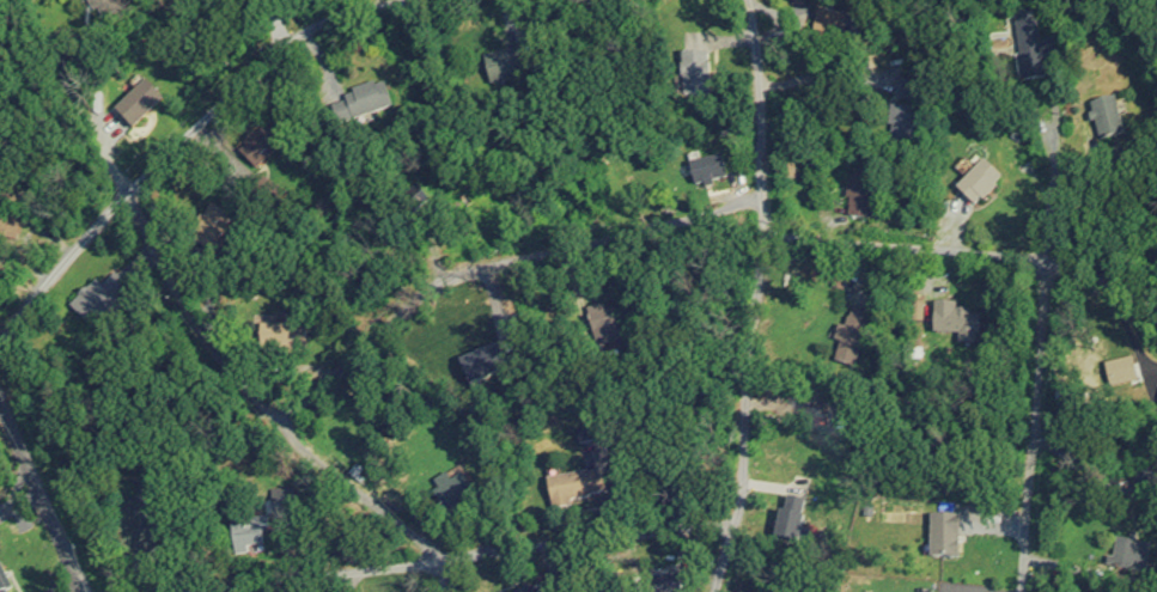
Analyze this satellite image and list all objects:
building: (111, 8)
building: (824, 31)
building: (692, 75)
building: (903, 90)
building: (134, 105)
building: (1104, 118)
building: (900, 126)
road: (183, 138)
building: (978, 185)
building: (859, 197)
road: (958, 255)
road: (498, 266)
building: (95, 295)
road: (753, 297)
building: (954, 328)
road: (1036, 349)
road: (229, 374)
building: (573, 490)
building: (450, 492)
road: (37, 502)
building: (279, 503)
building: (245, 536)
building: (943, 538)
building: (1129, 556)
road: (432, 568)
building: (658, 582)
building: (0, 591)

